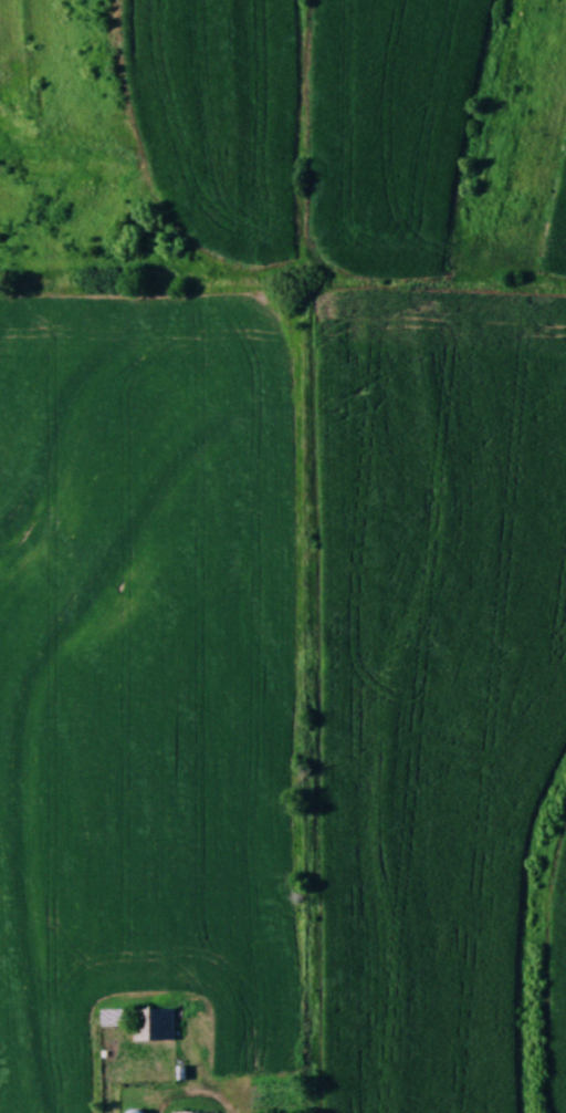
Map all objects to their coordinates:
building: (154, 1022)
road: (199, 1099)
building: (133, 1110)
building: (193, 1111)

